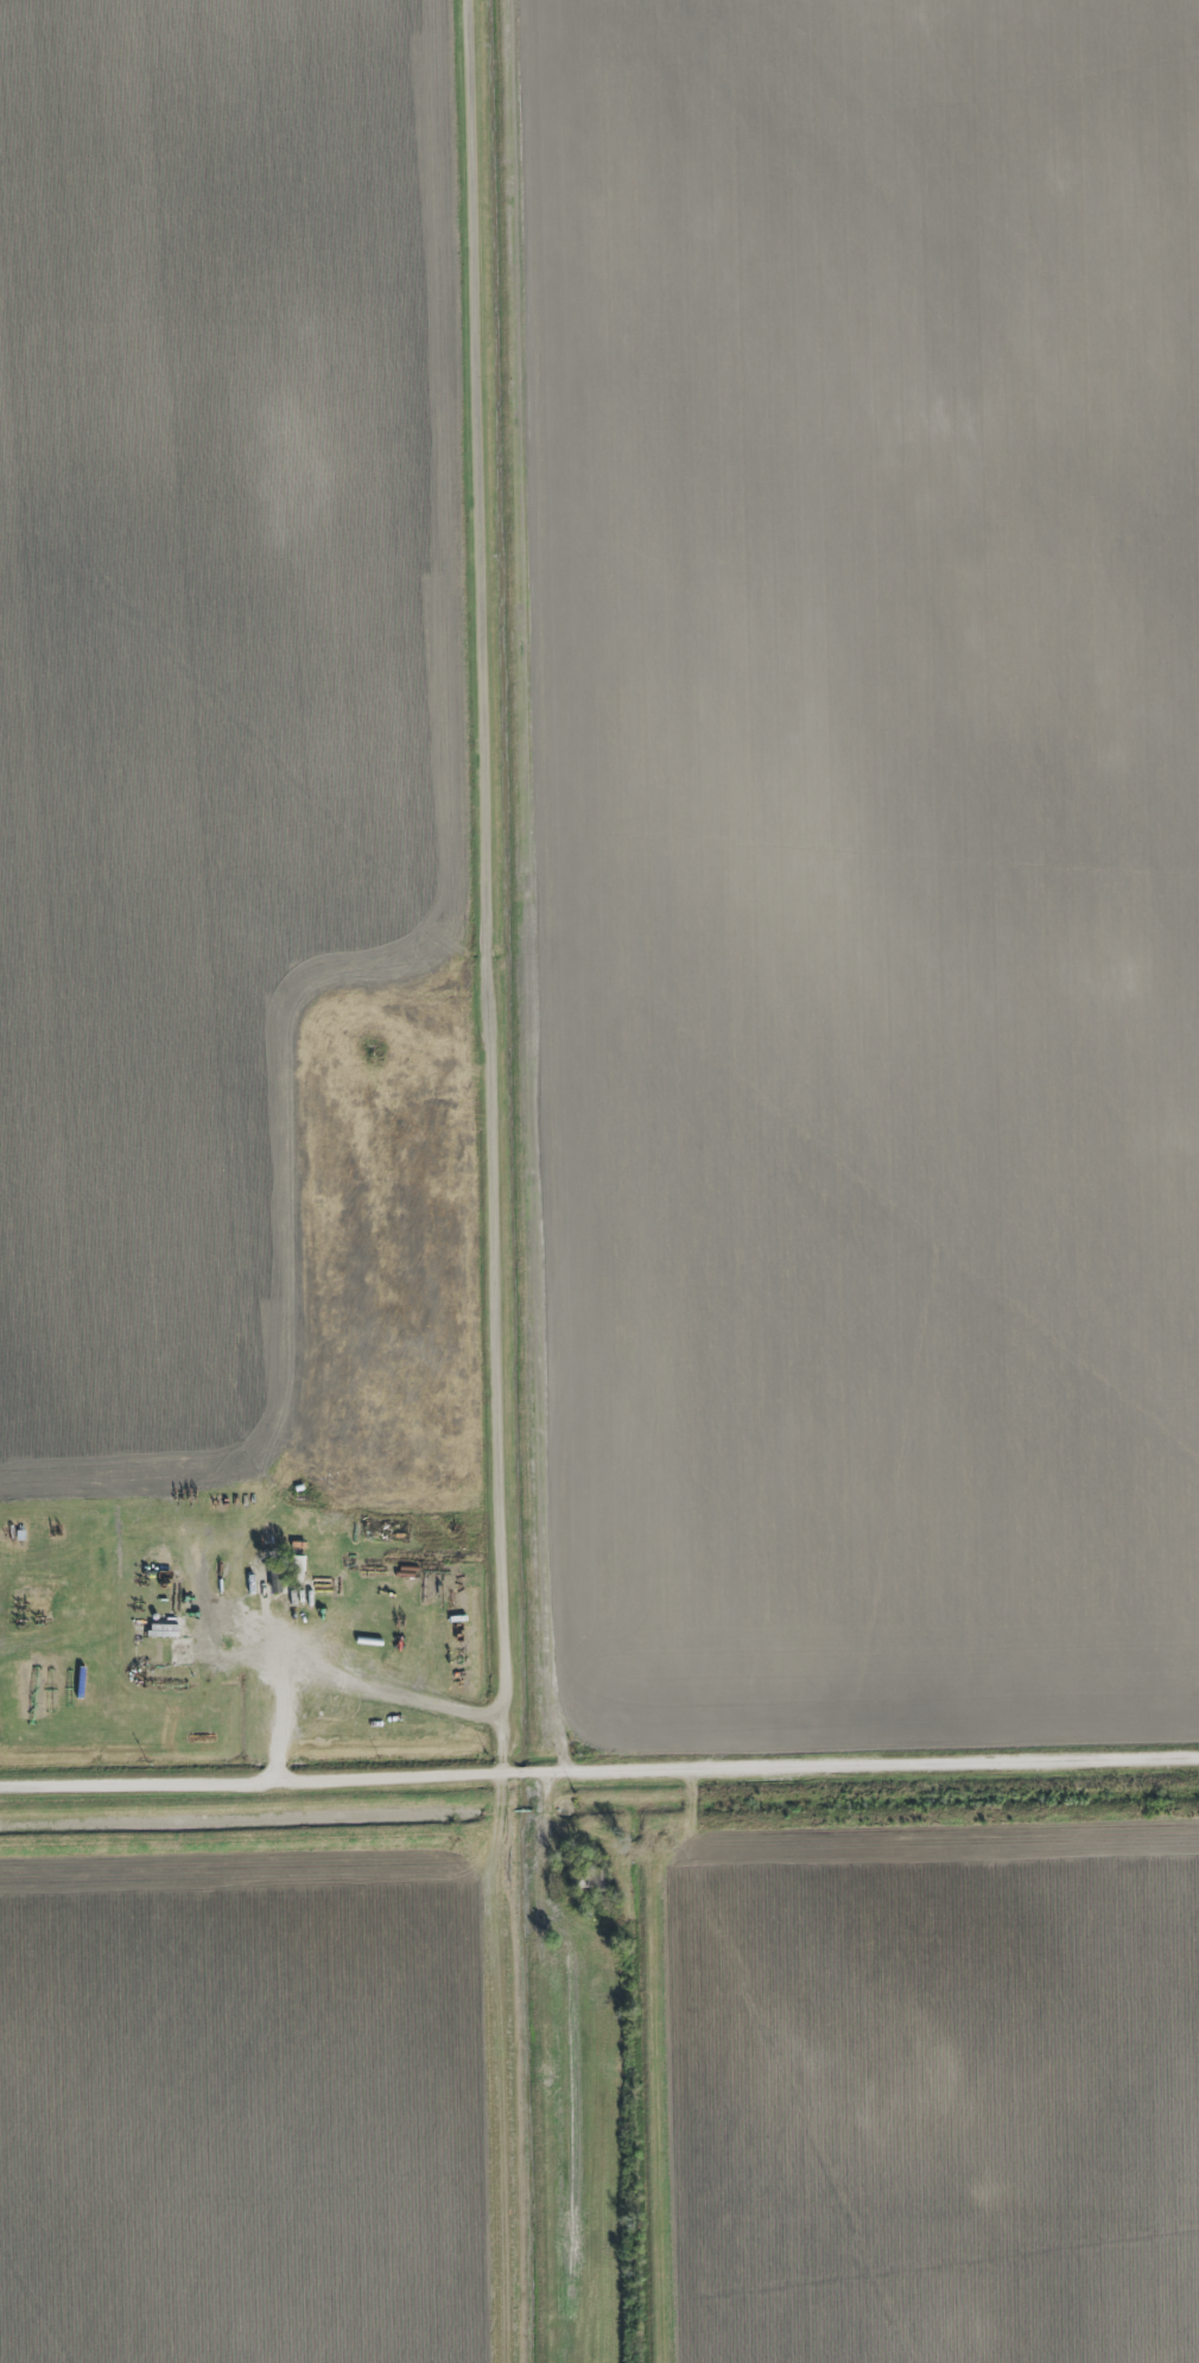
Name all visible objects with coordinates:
road: (489, 886)
road: (351, 1681)
road: (599, 1772)

